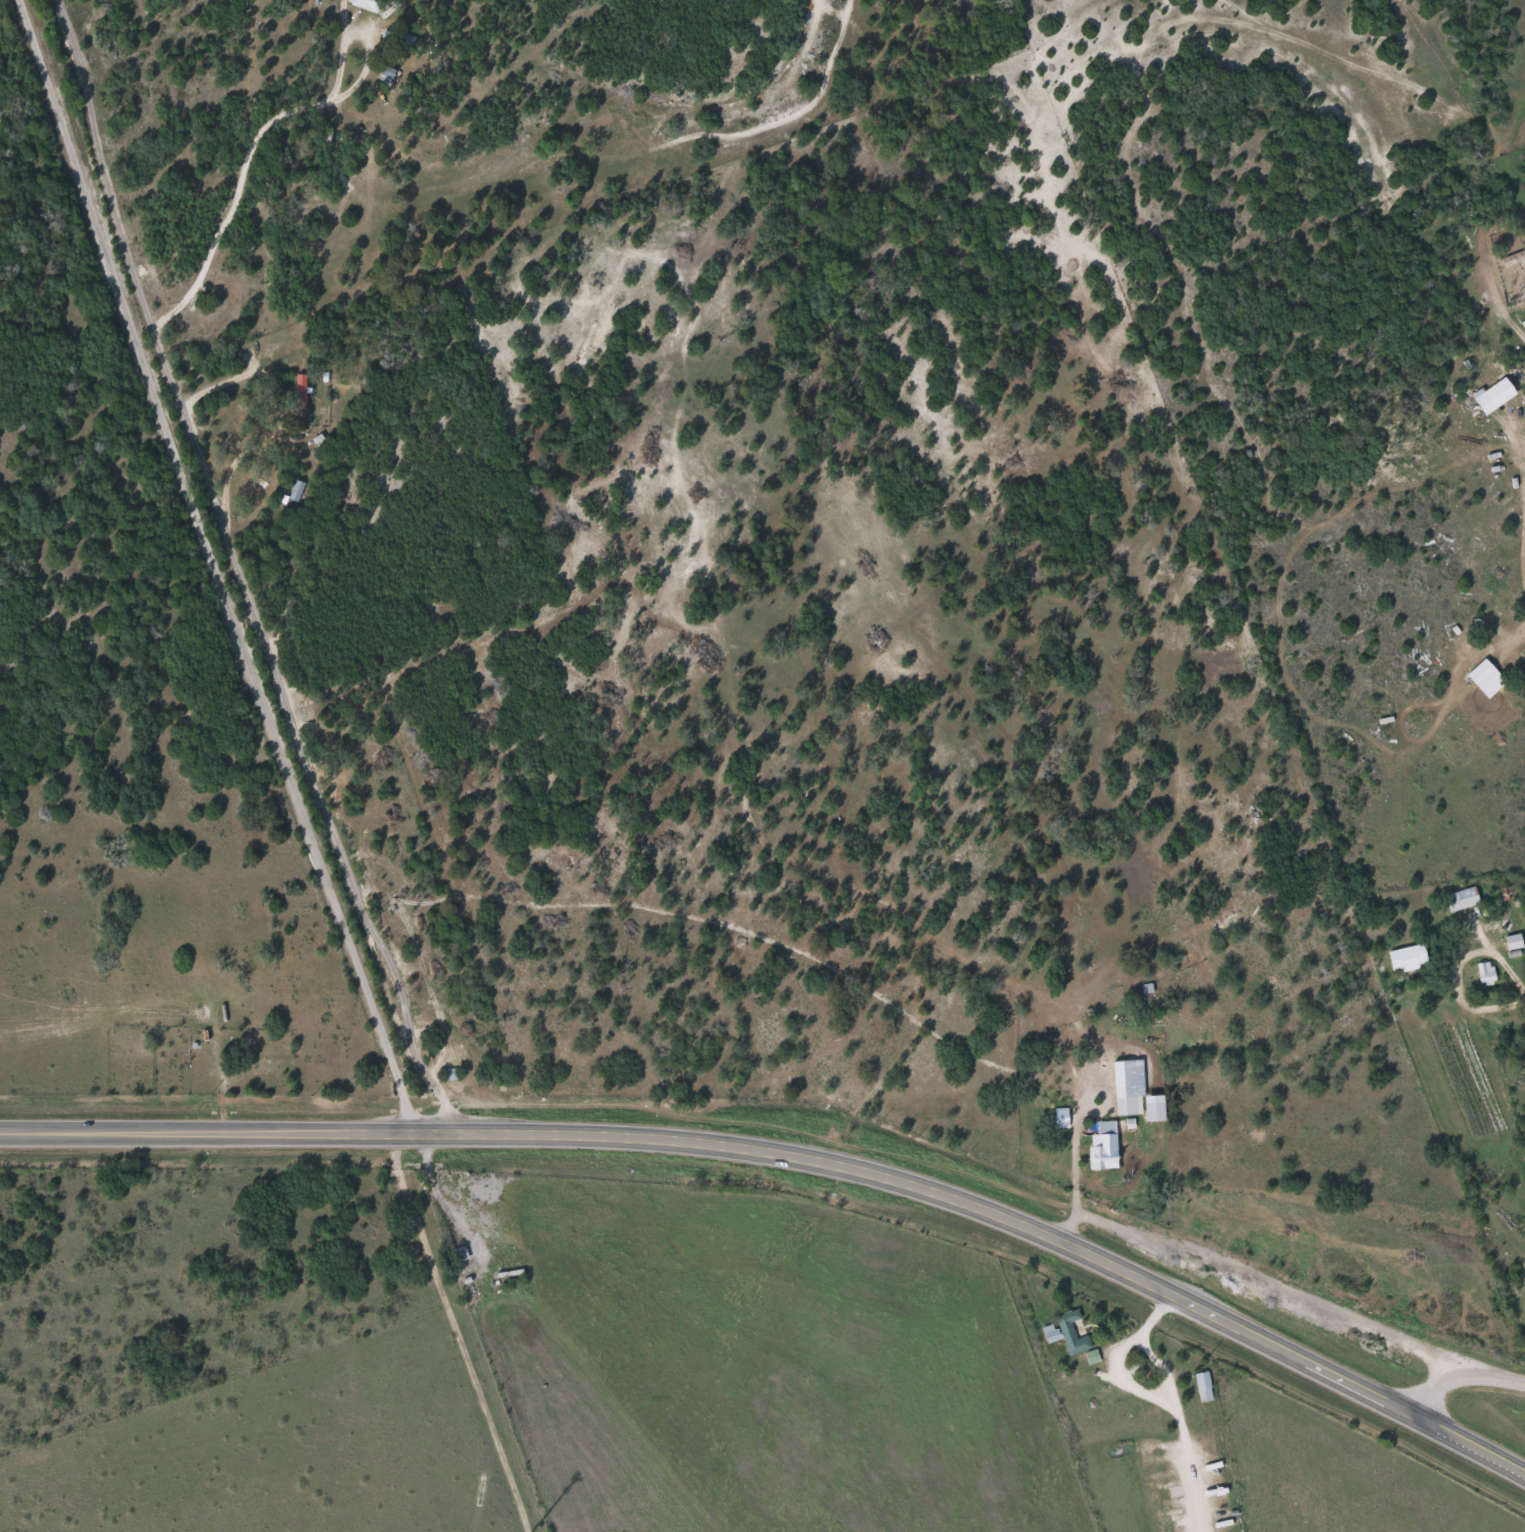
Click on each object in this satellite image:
building: (364, 4)
building: (384, 74)
road: (266, 121)
road: (1504, 310)
building: (298, 388)
building: (1490, 396)
building: (297, 415)
road: (1515, 429)
building: (295, 491)
road: (212, 567)
road: (239, 571)
building: (1482, 678)
building: (1459, 899)
building: (1510, 941)
building: (1404, 958)
building: (1483, 973)
building: (1131, 1092)
building: (1058, 1118)
building: (1100, 1147)
road: (1074, 1151)
road: (796, 1156)
road: (438, 1197)
road: (1272, 1282)
building: (1048, 1333)
building: (1069, 1333)
building: (1089, 1357)
road: (1159, 1371)
road: (1458, 1377)
building: (1201, 1387)
road: (1153, 1397)

